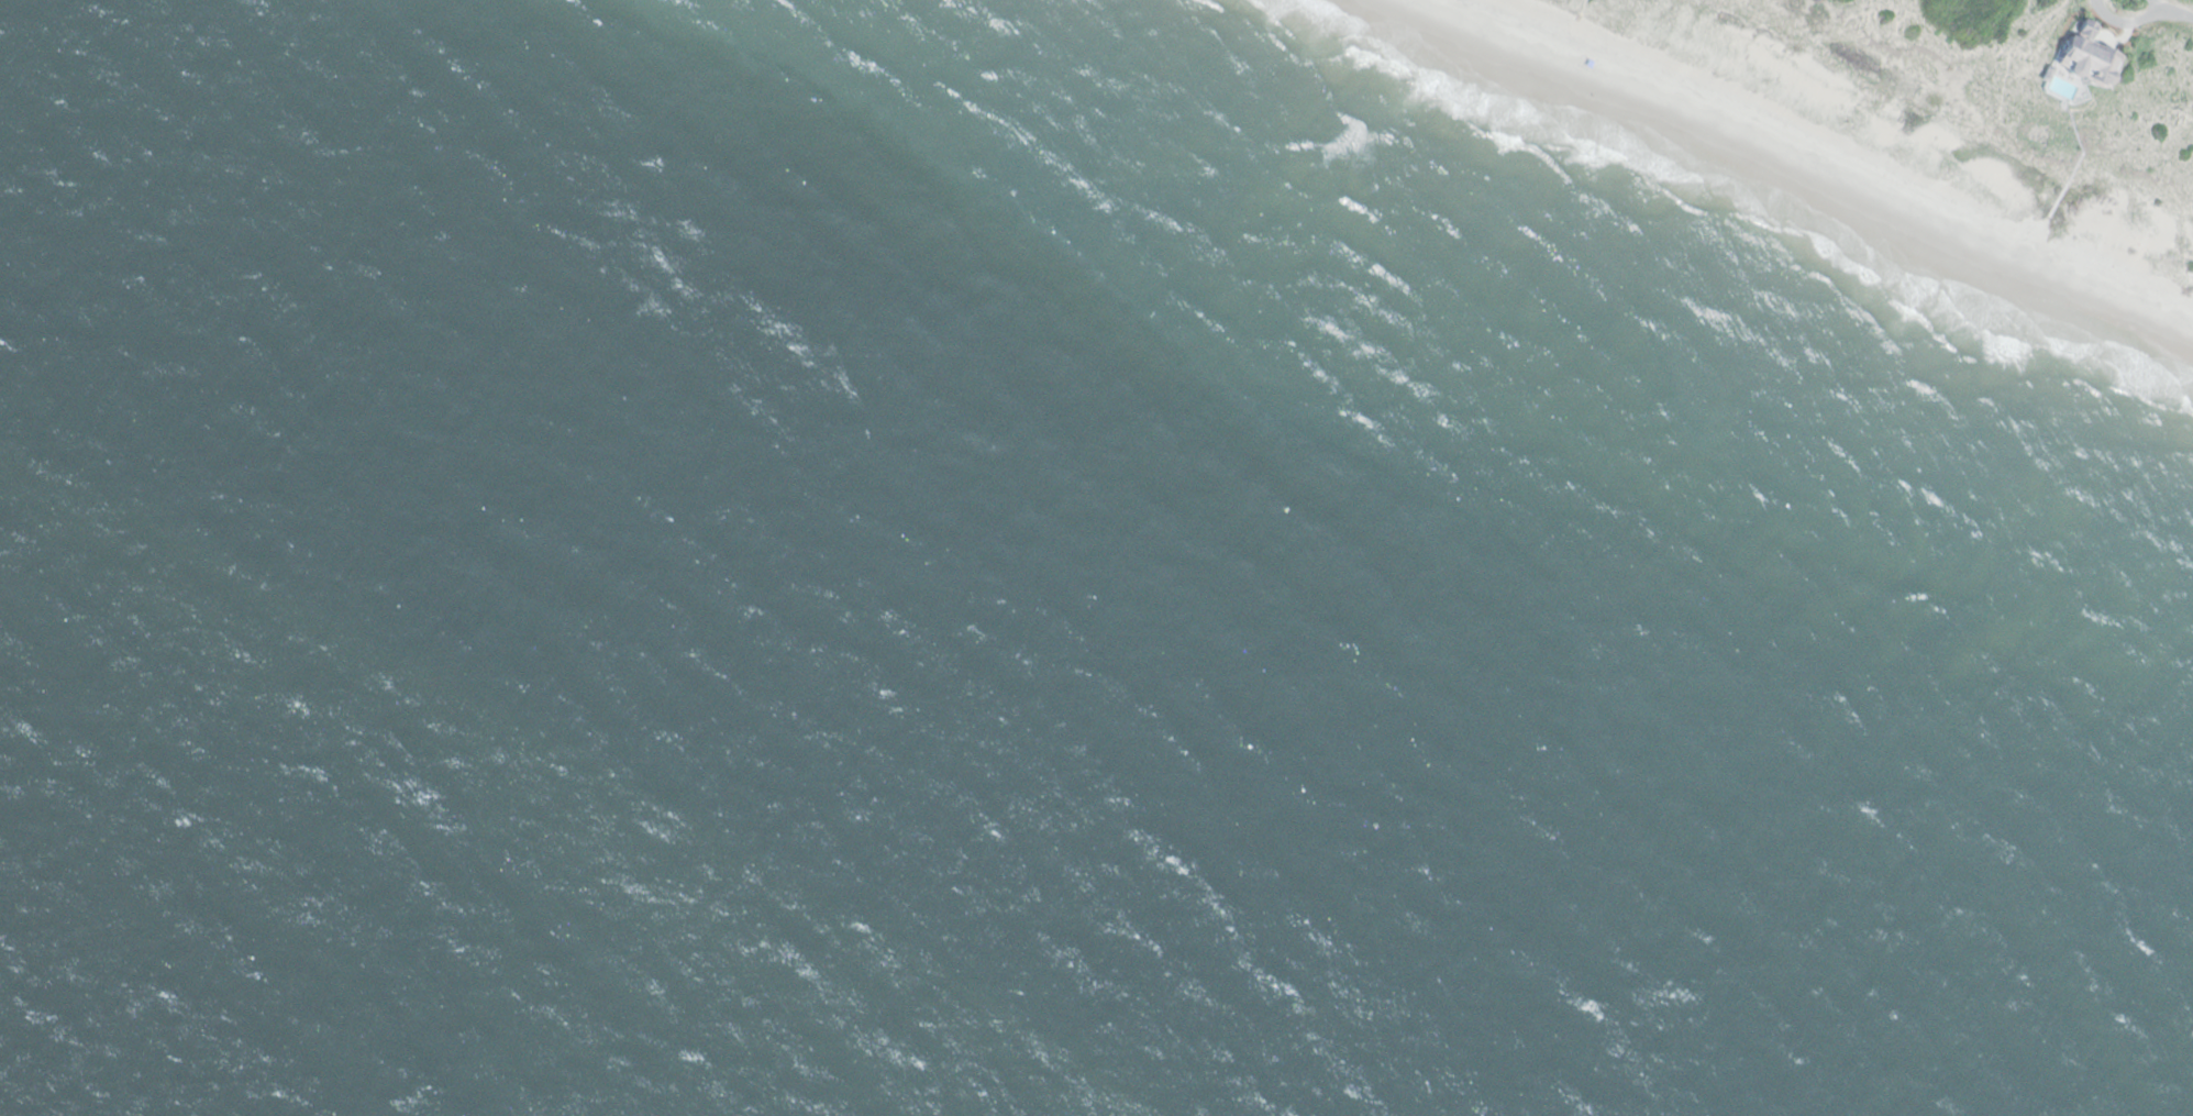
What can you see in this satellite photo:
road: (2172, 12)
road: (2126, 21)
building: (2079, 64)

